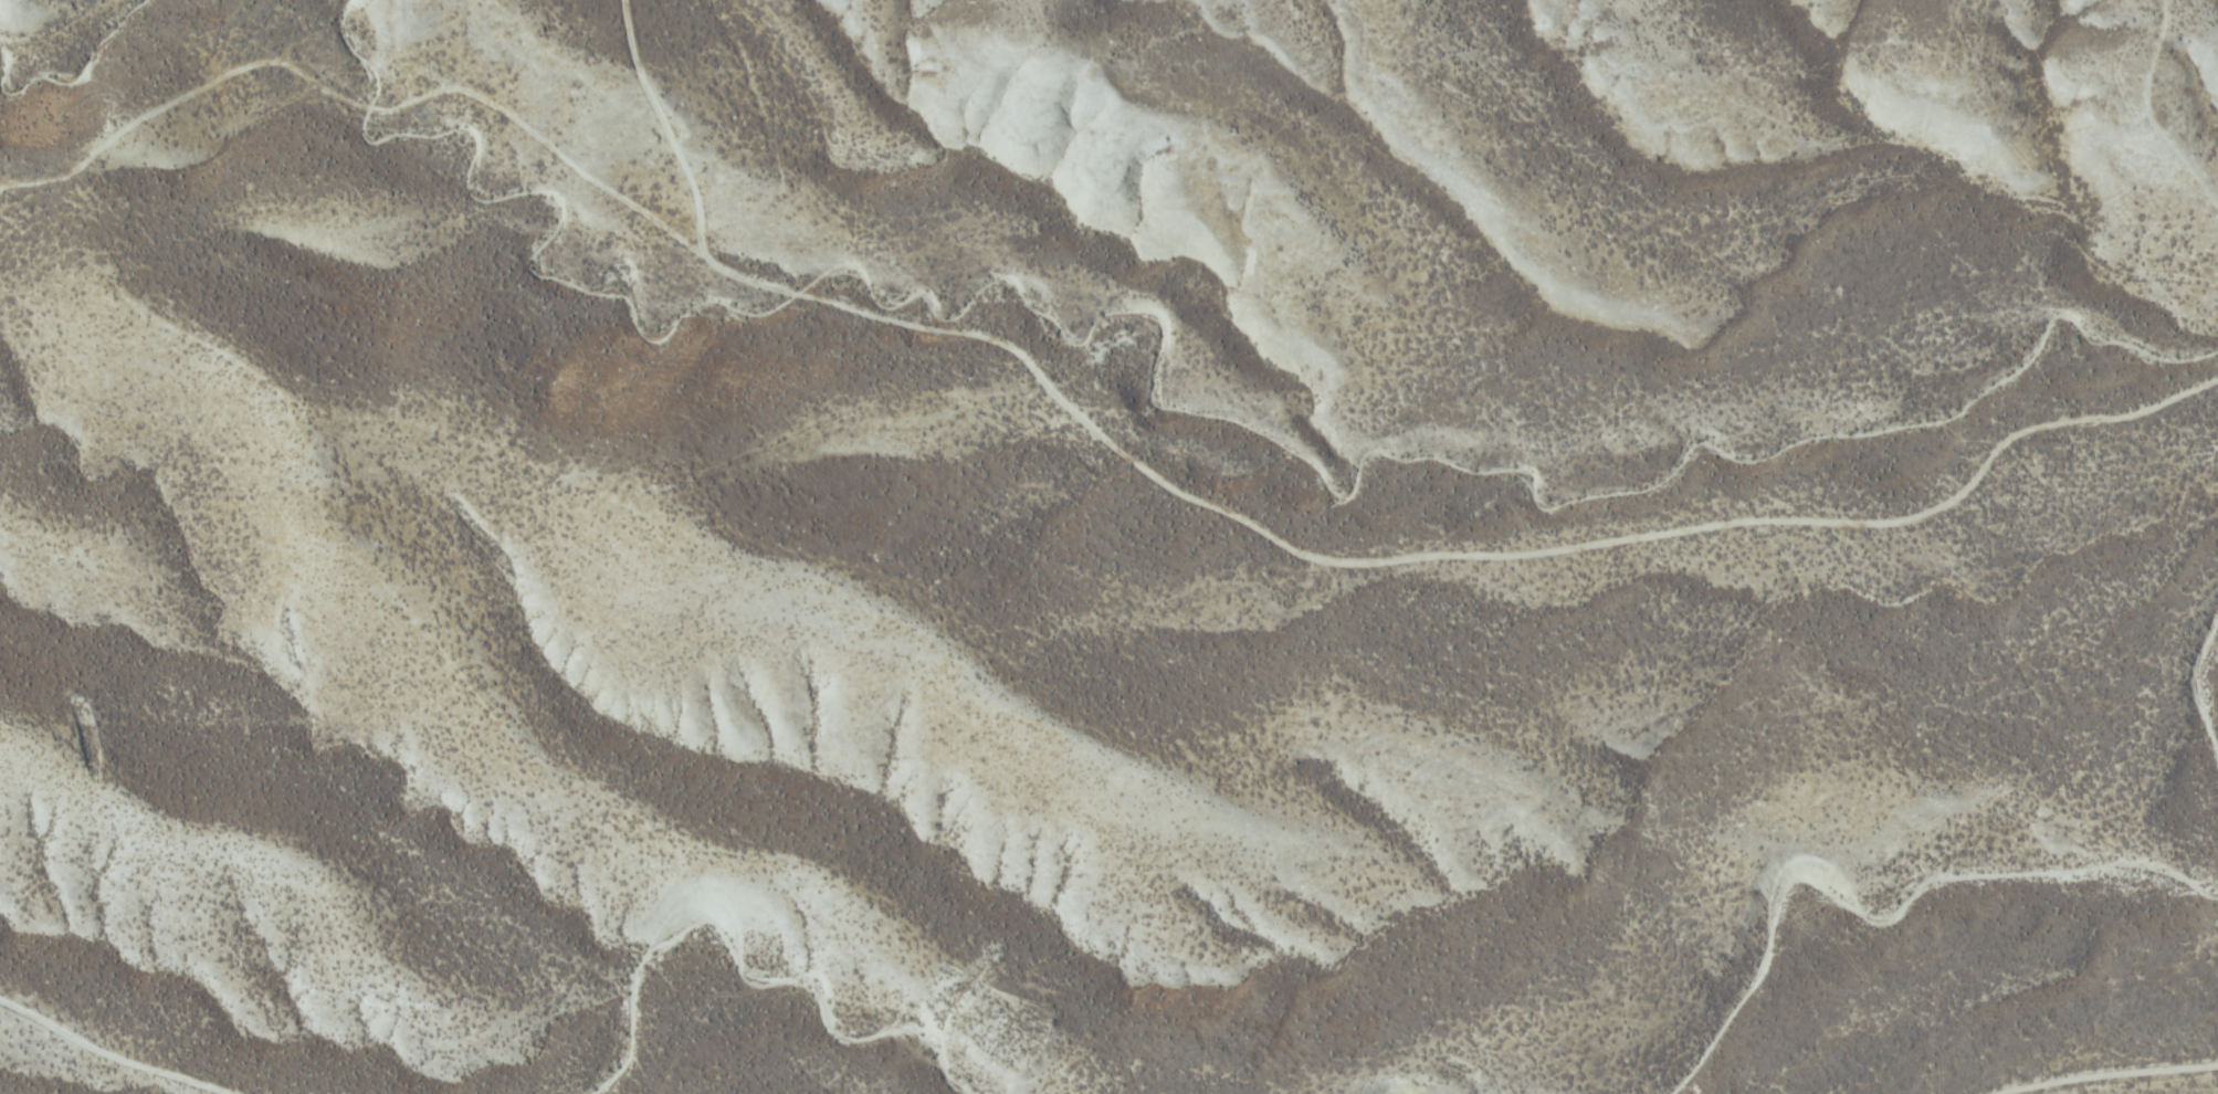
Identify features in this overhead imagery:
road: (2113, 1075)

